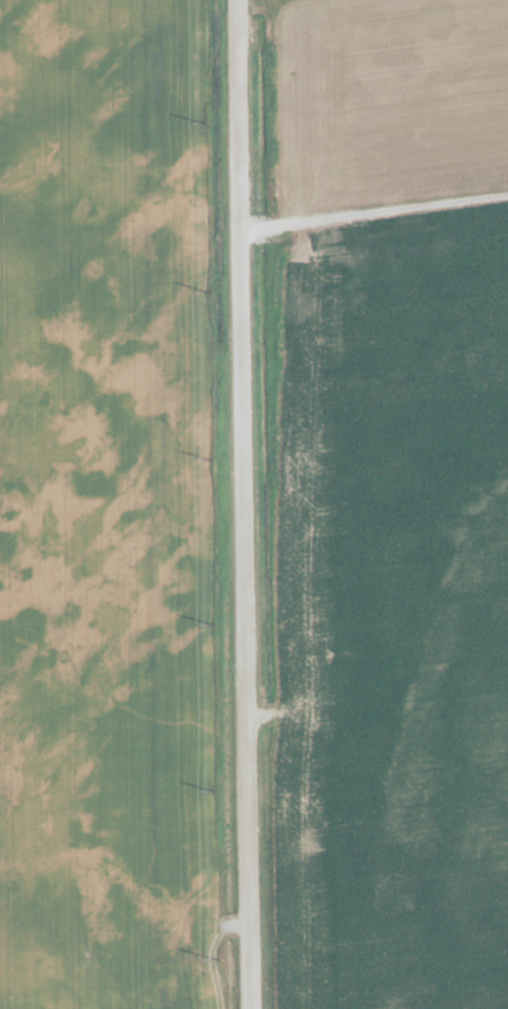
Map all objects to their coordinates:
road: (245, 504)

